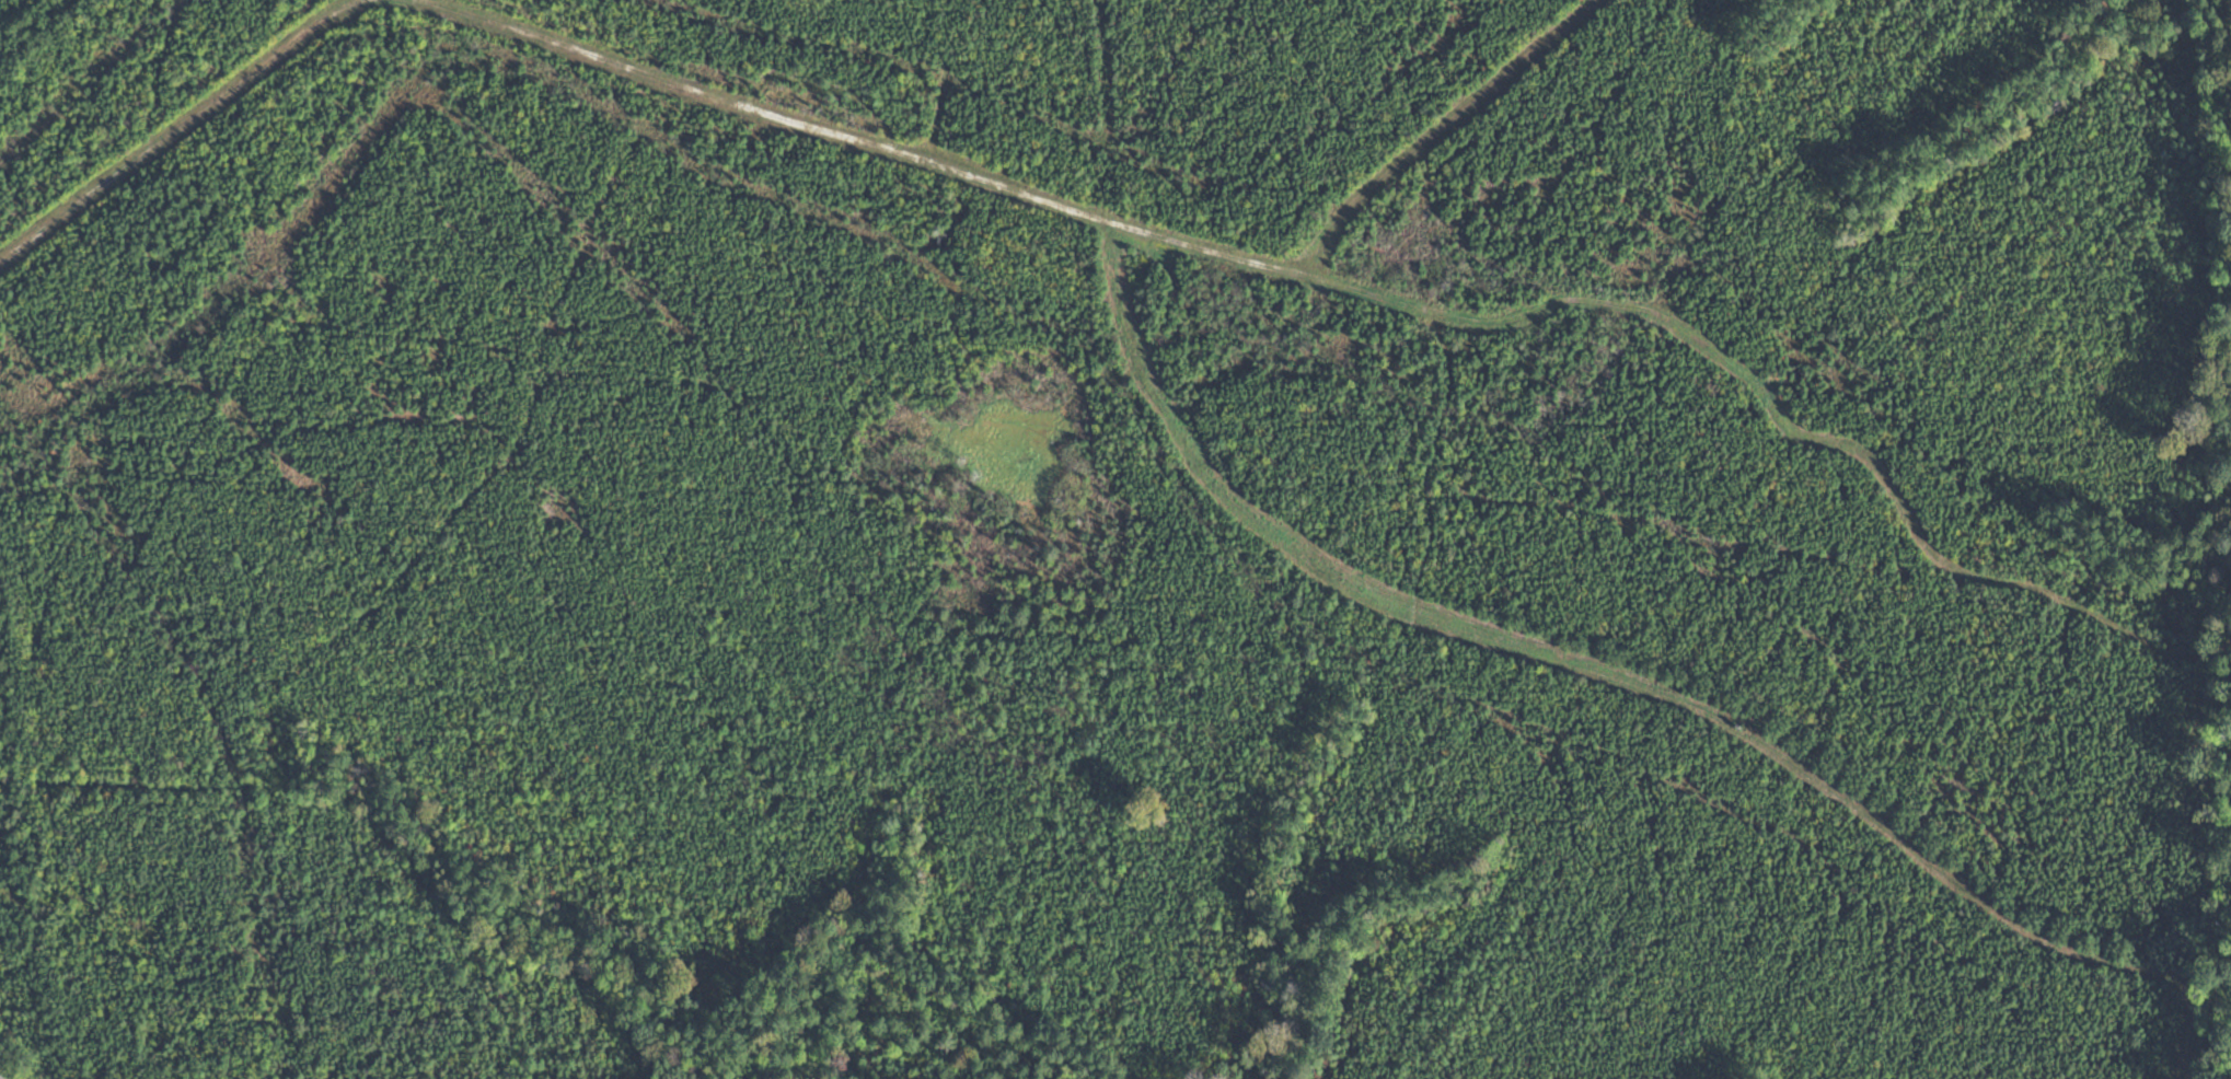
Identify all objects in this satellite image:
park: (1115, 539)

